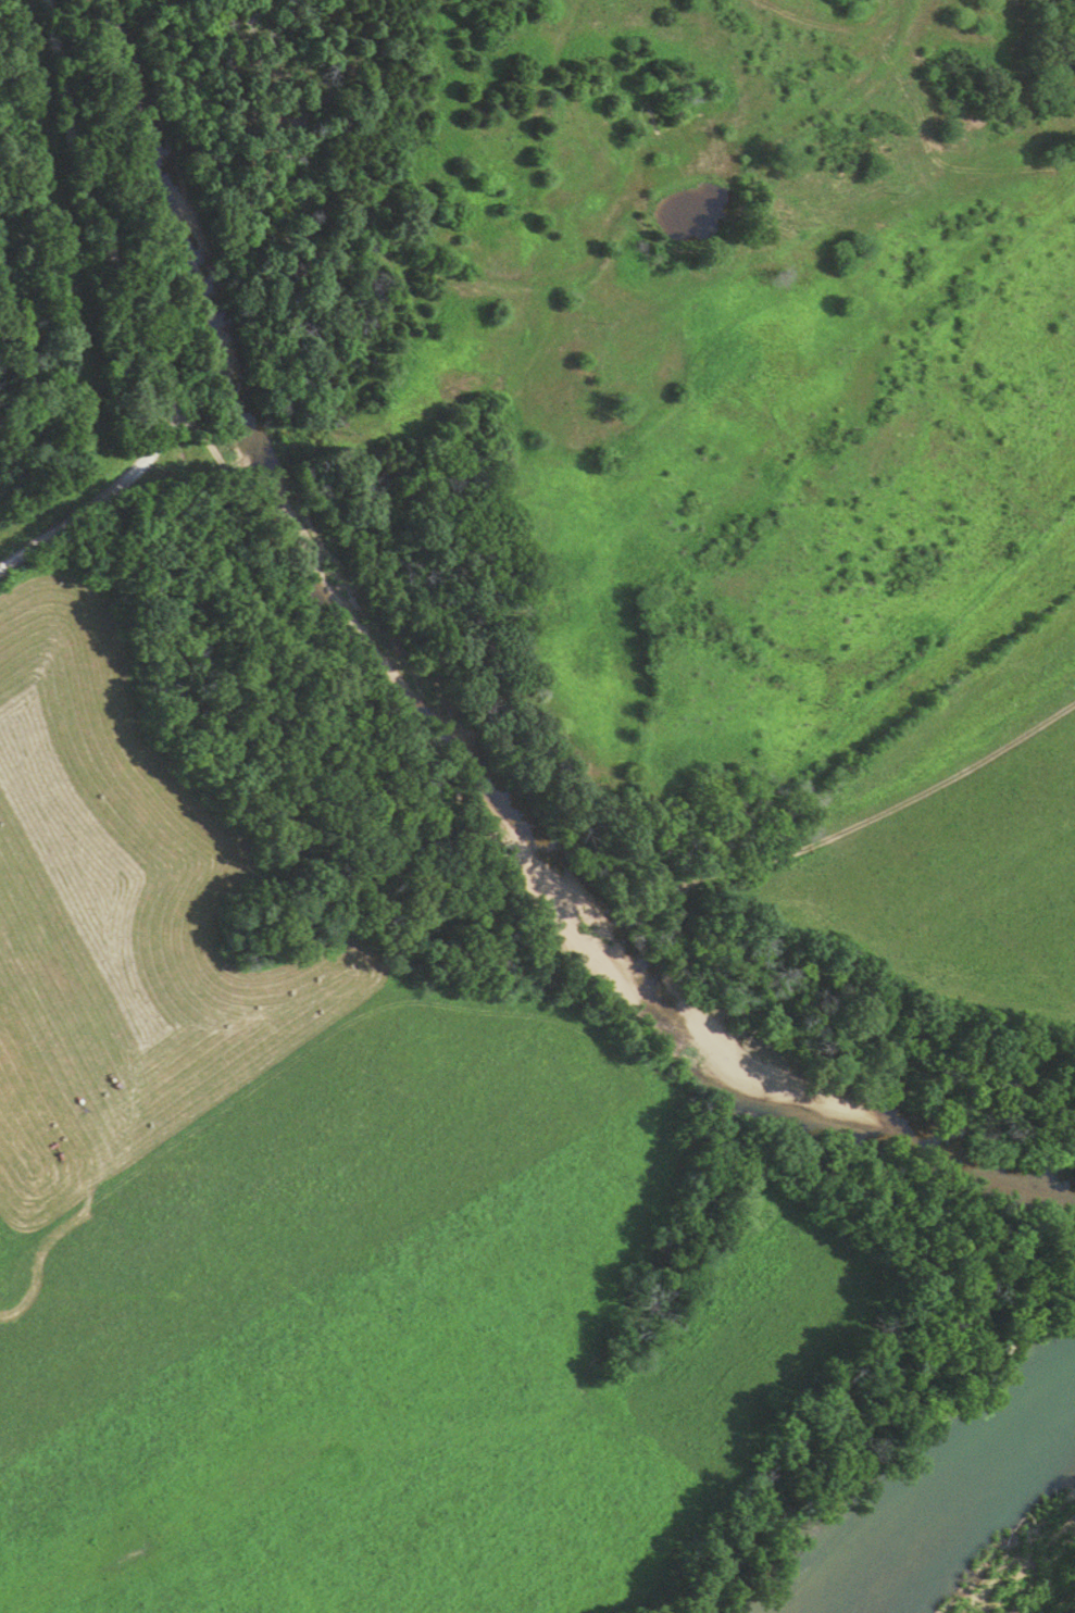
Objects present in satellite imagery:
road: (132, 312)
river: (435, 751)
river: (934, 1506)

